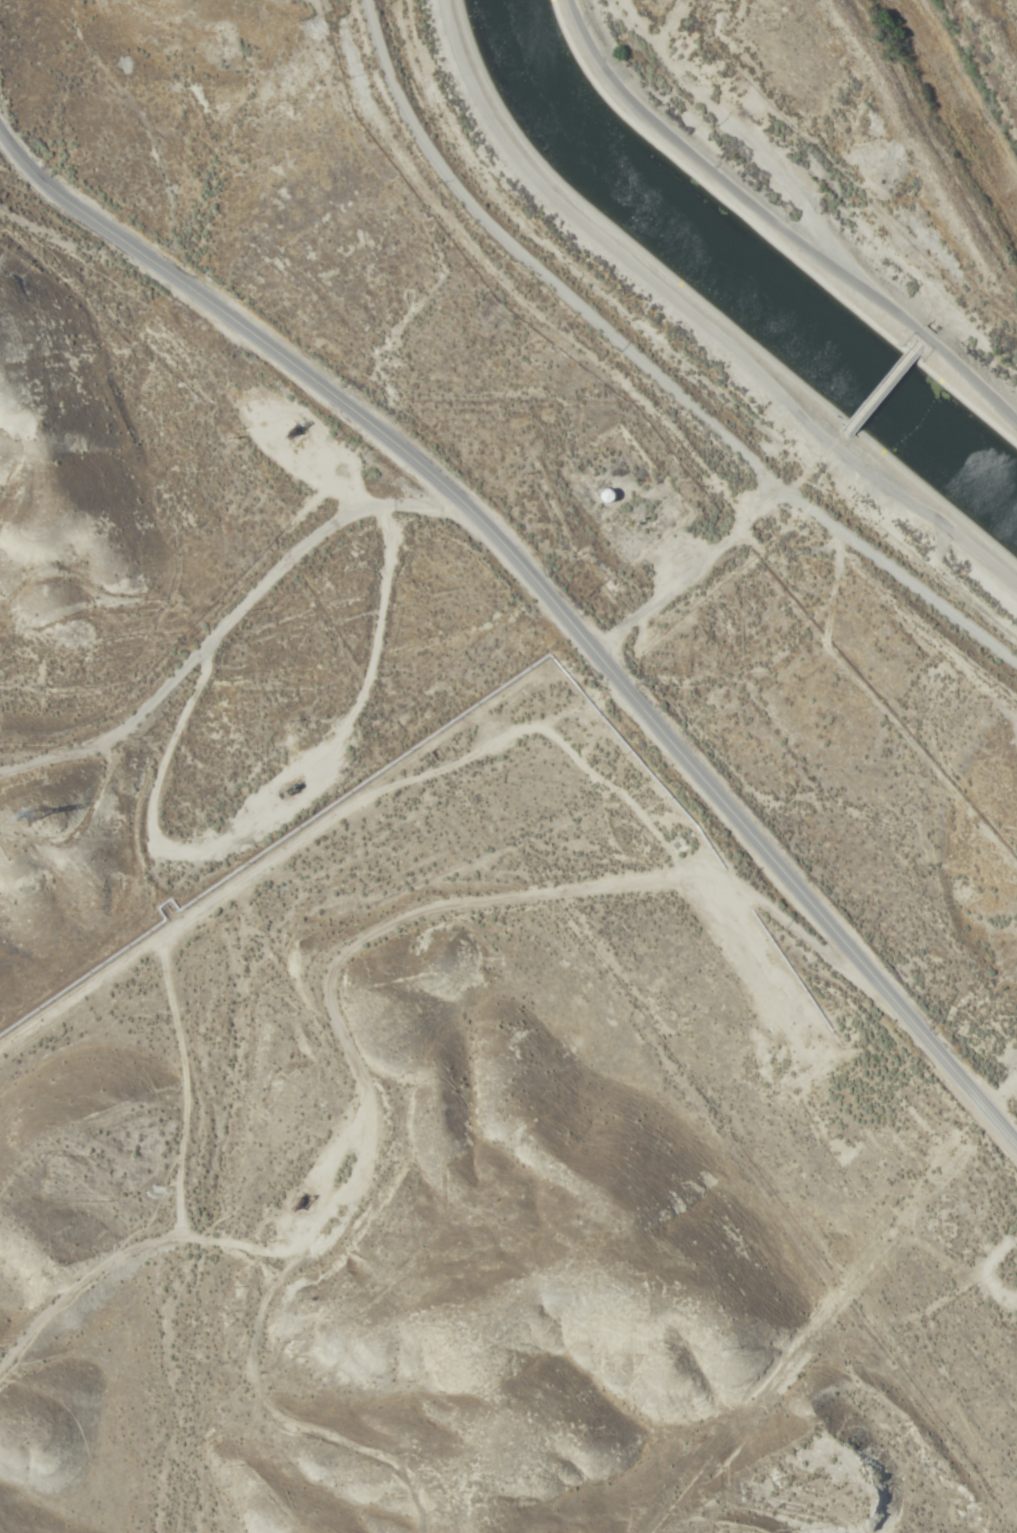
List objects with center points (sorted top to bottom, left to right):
road: (792, 217)
road: (107, 265)
road: (693, 343)
road: (648, 368)
road: (986, 416)
building: (608, 495)
road: (535, 580)
road: (223, 627)
road: (414, 794)
power tower: (30, 813)
road: (513, 894)

